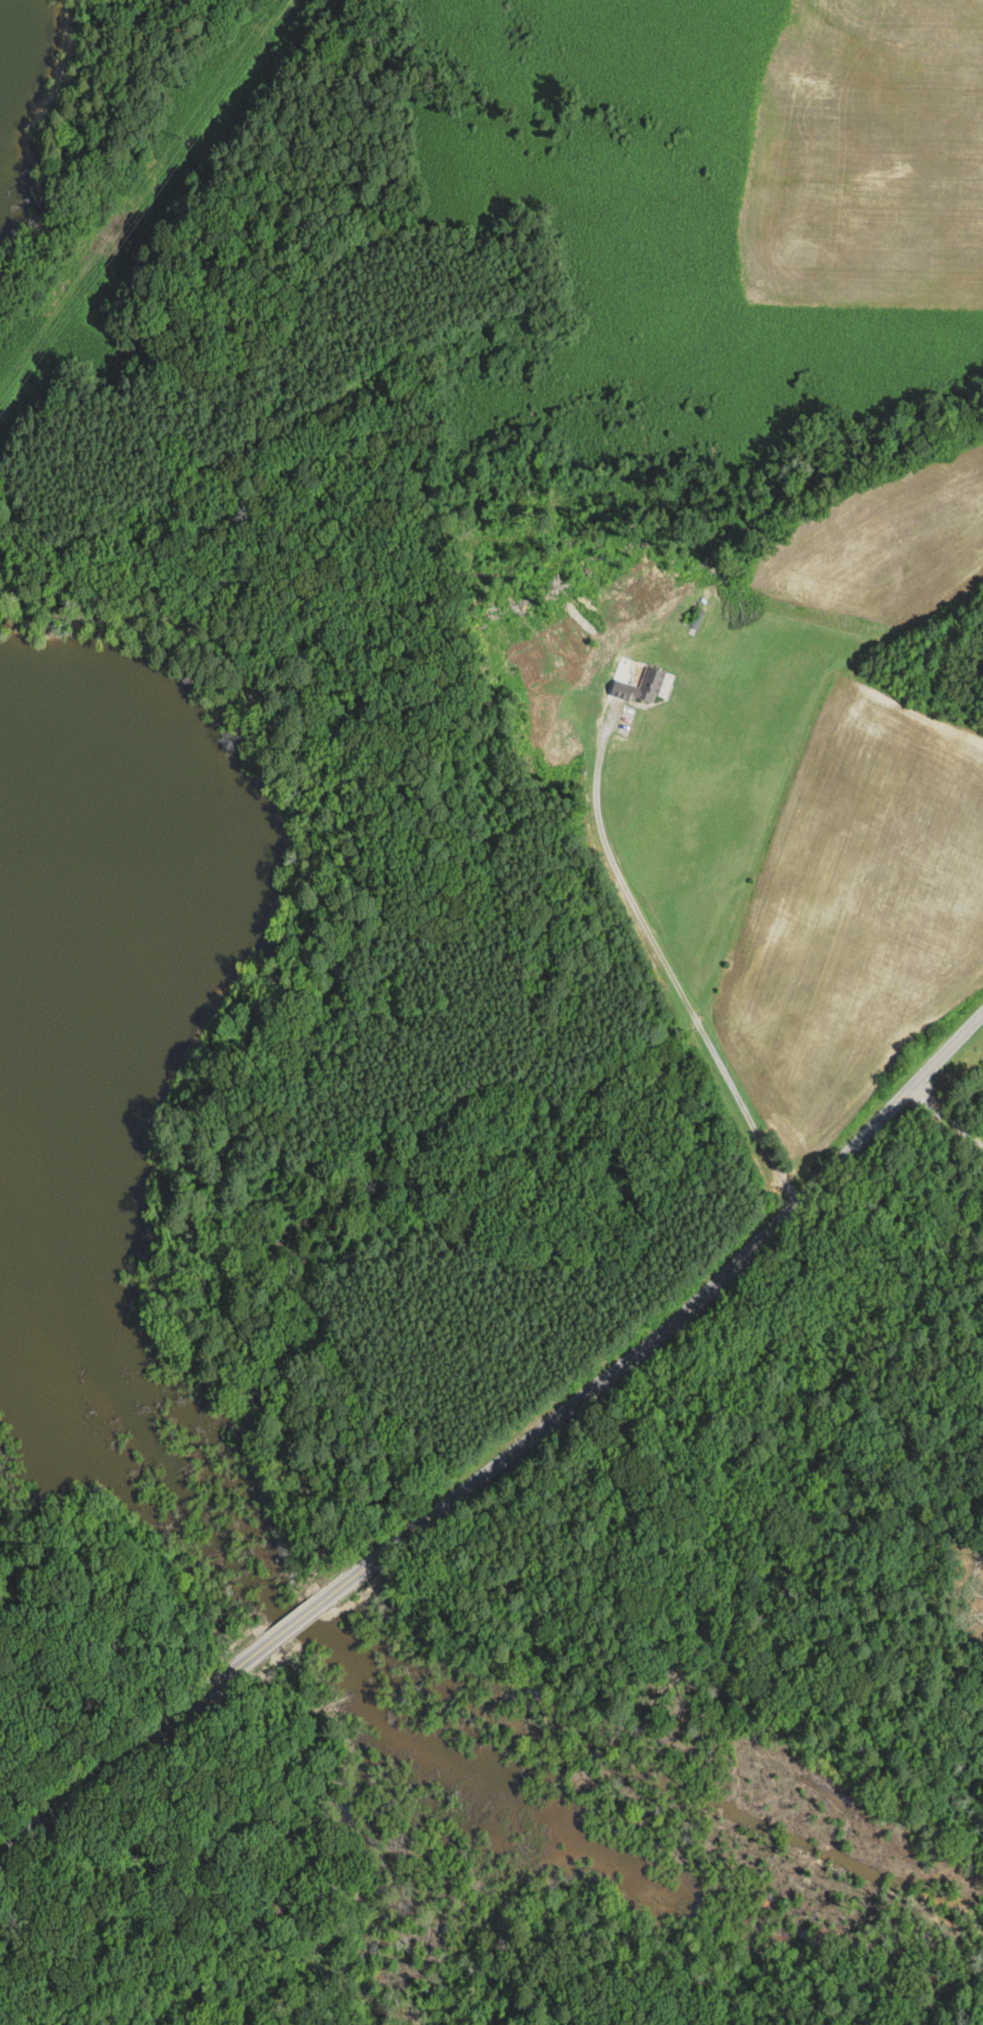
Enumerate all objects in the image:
power tower: (187, 139)
building: (646, 686)
road: (667, 967)
road: (712, 1284)
road: (372, 1561)
road: (296, 1623)
road: (210, 1690)
road: (78, 1790)

